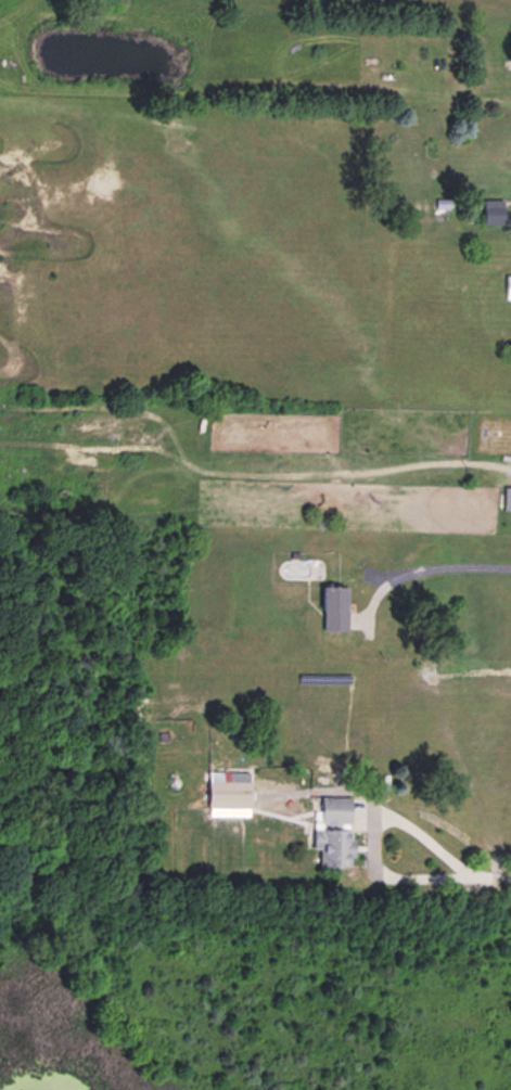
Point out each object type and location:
building: (495, 209)
building: (508, 285)
road: (421, 556)
building: (336, 605)
building: (231, 793)
building: (336, 831)
road: (457, 859)

